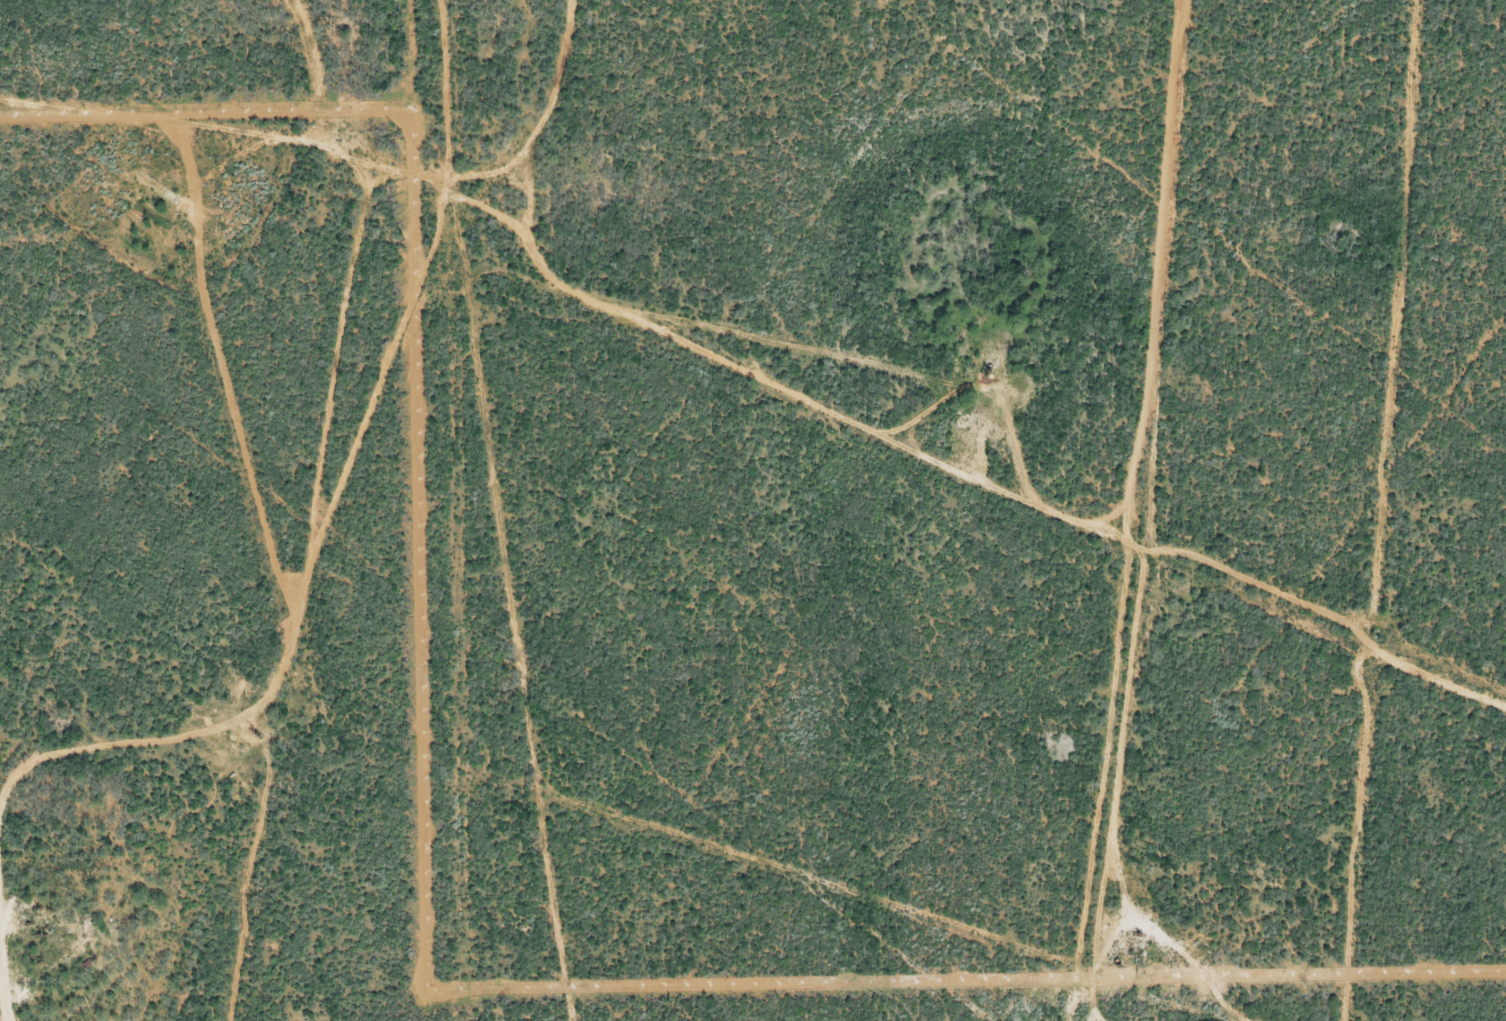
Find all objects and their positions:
road: (539, 128)
road: (789, 411)

